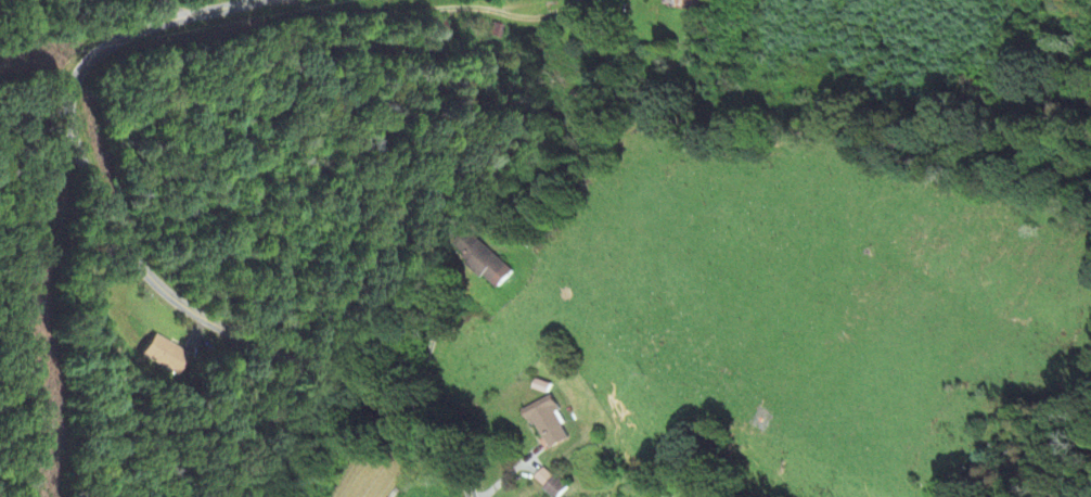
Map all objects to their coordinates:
building: (681, 4)
road: (179, 9)
building: (483, 259)
road: (140, 264)
building: (165, 356)
building: (545, 423)
building: (548, 483)

